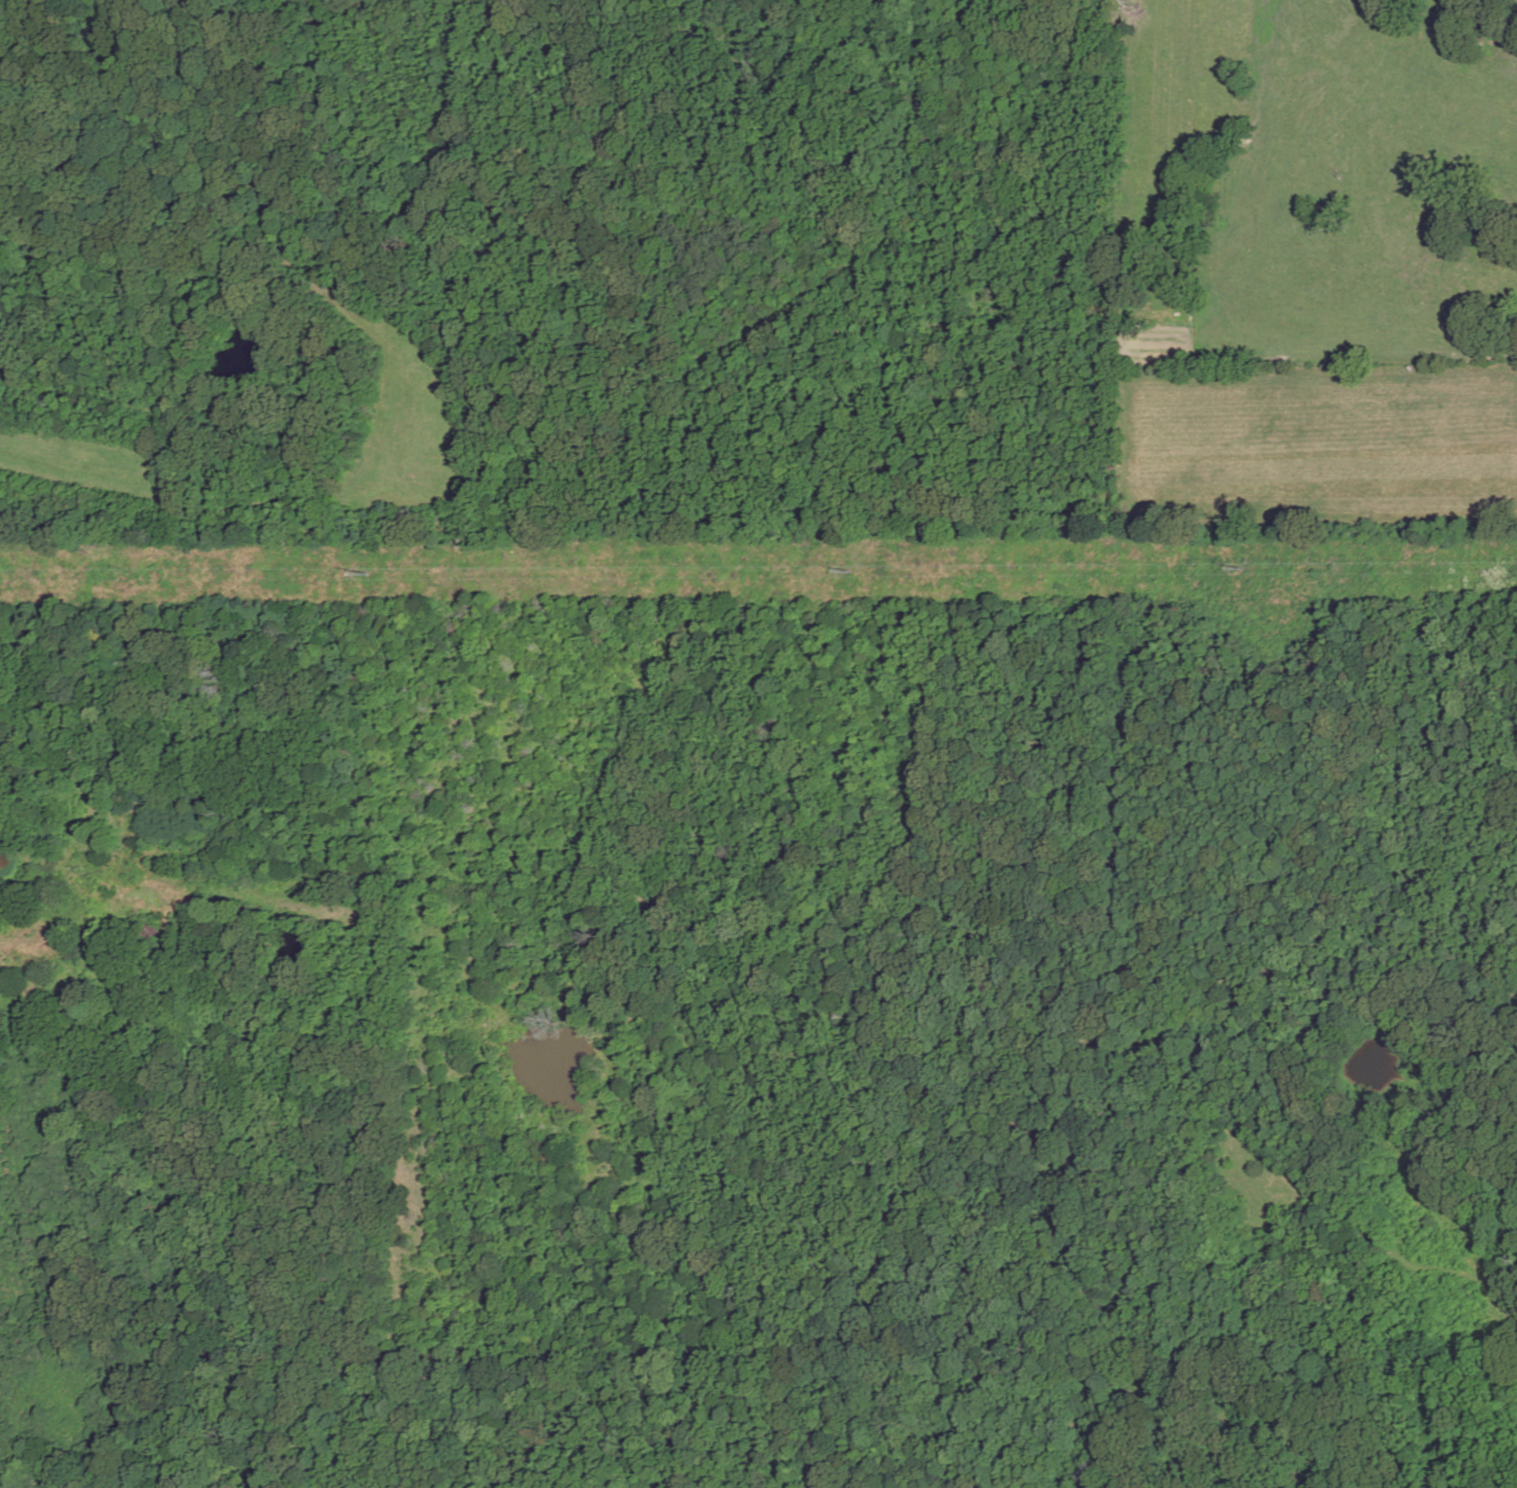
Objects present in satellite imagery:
road: (1453, 359)

